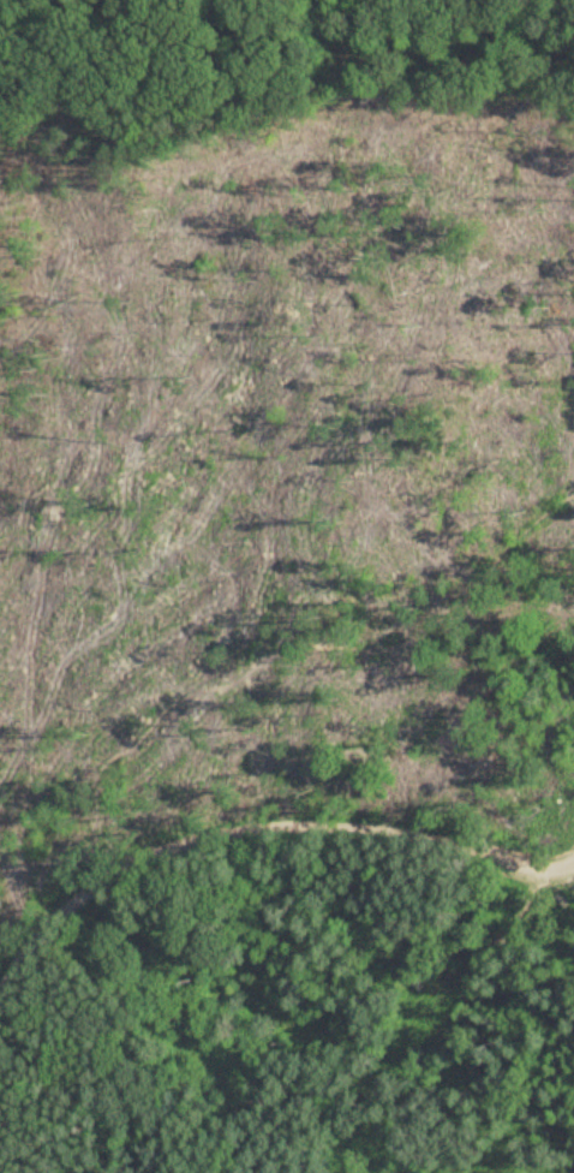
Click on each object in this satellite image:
road: (181, 776)
road: (261, 826)

